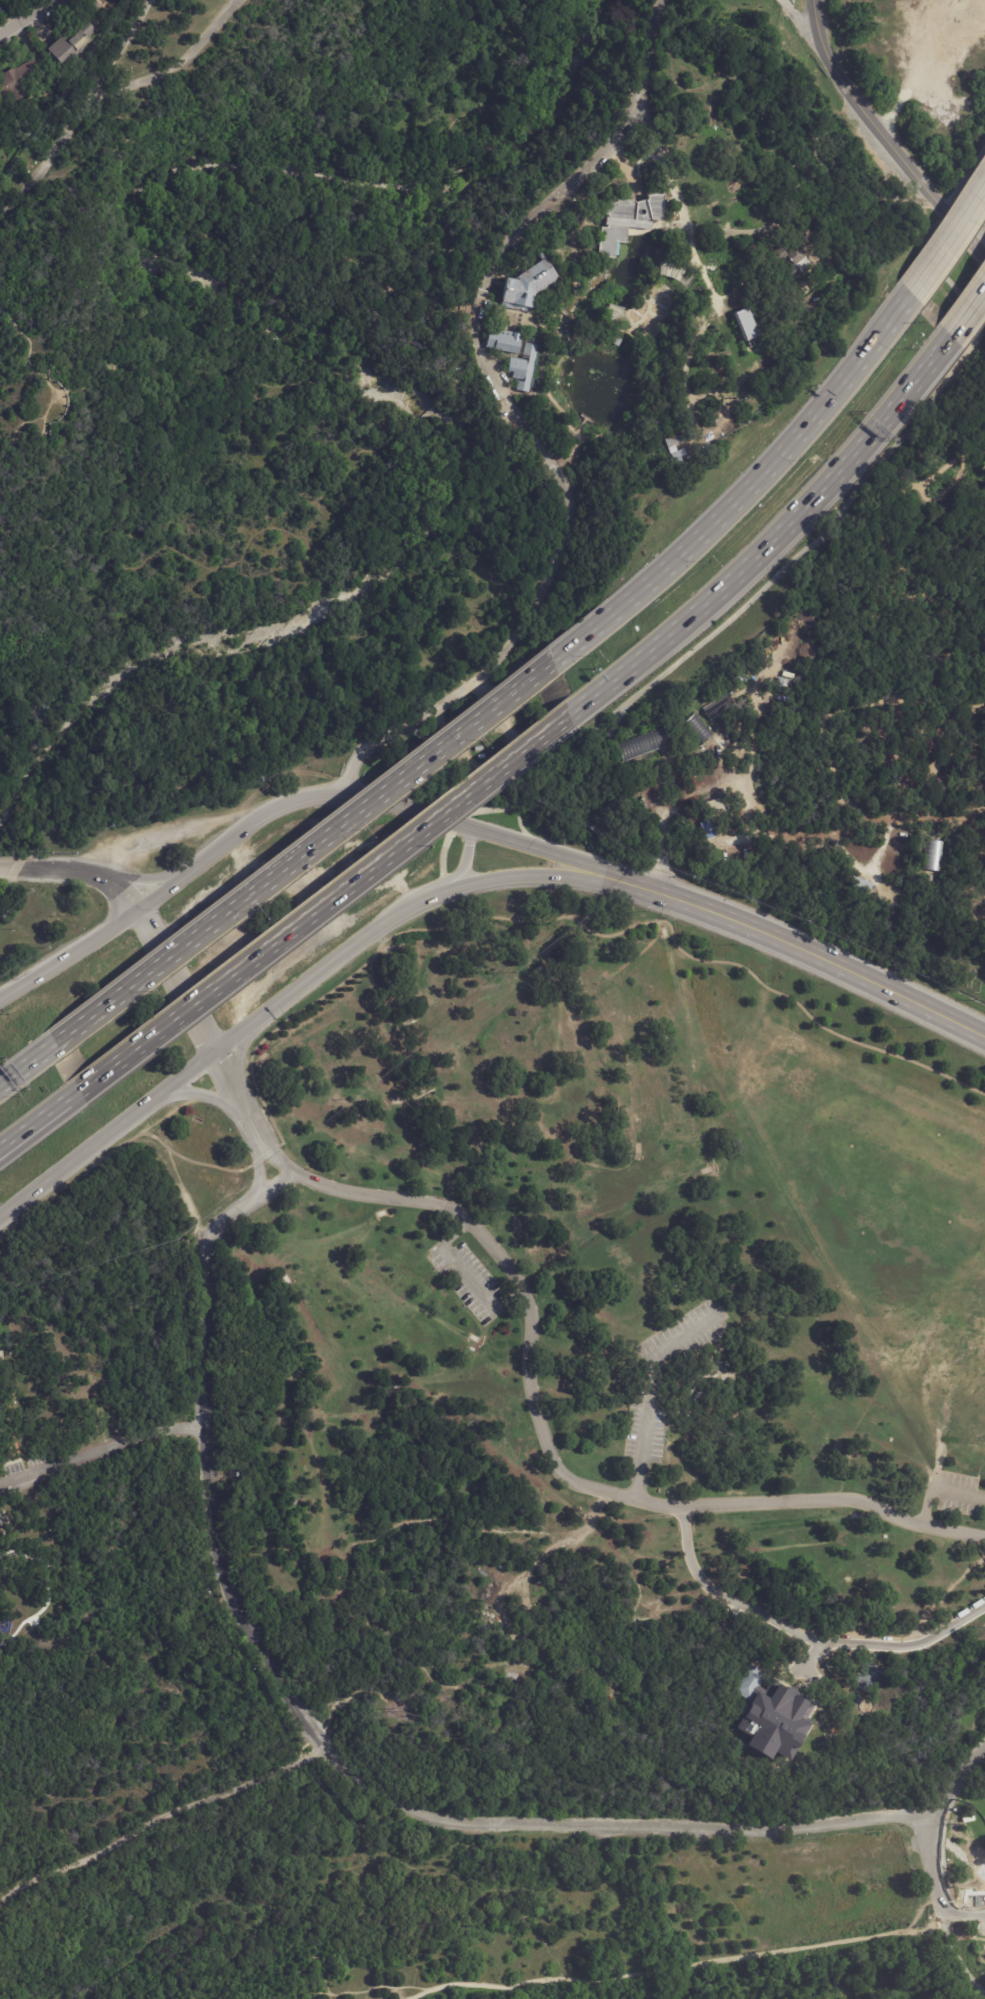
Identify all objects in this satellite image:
building: (95, 8)
road: (27, 16)
road: (798, 16)
road: (814, 16)
building: (73, 43)
road: (650, 52)
road: (921, 69)
building: (18, 86)
road: (112, 92)
road: (893, 150)
road: (44, 164)
parking lot: (980, 191)
road: (819, 200)
road: (678, 207)
building: (627, 220)
road: (515, 238)
road: (949, 242)
building: (792, 261)
building: (526, 284)
building: (613, 311)
road: (968, 314)
building: (747, 322)
road: (27, 343)
building: (517, 353)
road: (54, 421)
road: (15, 434)
building: (676, 444)
road: (746, 490)
road: (253, 536)
road: (775, 536)
road: (563, 543)
road: (795, 561)
road: (872, 589)
building: (781, 686)
building: (718, 707)
road: (399, 728)
building: (697, 731)
building: (648, 743)
road: (289, 806)
building: (716, 808)
road: (807, 827)
road: (522, 828)
road: (304, 857)
building: (933, 857)
road: (559, 858)
road: (464, 863)
road: (12, 870)
road: (546, 877)
road: (142, 882)
building: (861, 886)
road: (960, 906)
road: (324, 907)
road: (579, 921)
road: (145, 926)
road: (819, 955)
road: (69, 958)
road: (326, 967)
park: (495, 1005)
road: (239, 1056)
road: (25, 1069)
road: (207, 1096)
road: (239, 1100)
road: (35, 1125)
road: (106, 1135)
road: (135, 1137)
road: (456, 1236)
parking lot: (468, 1278)
road: (469, 1280)
road: (509, 1300)
building: (2, 1356)
building: (0, 1380)
parking lot: (666, 1384)
road: (651, 1390)
building: (1, 1405)
road: (546, 1444)
road: (100, 1450)
road: (941, 1493)
parking lot: (955, 1498)
road: (802, 1635)
road: (809, 1657)
park: (864, 1674)
building: (865, 1676)
building: (768, 1714)
road: (321, 1744)
building: (784, 1764)
road: (158, 1813)
road: (935, 1841)
parking lot: (977, 1910)
road: (964, 1939)
road: (284, 1944)
road: (964, 1966)
road: (674, 1973)
road: (375, 1987)

